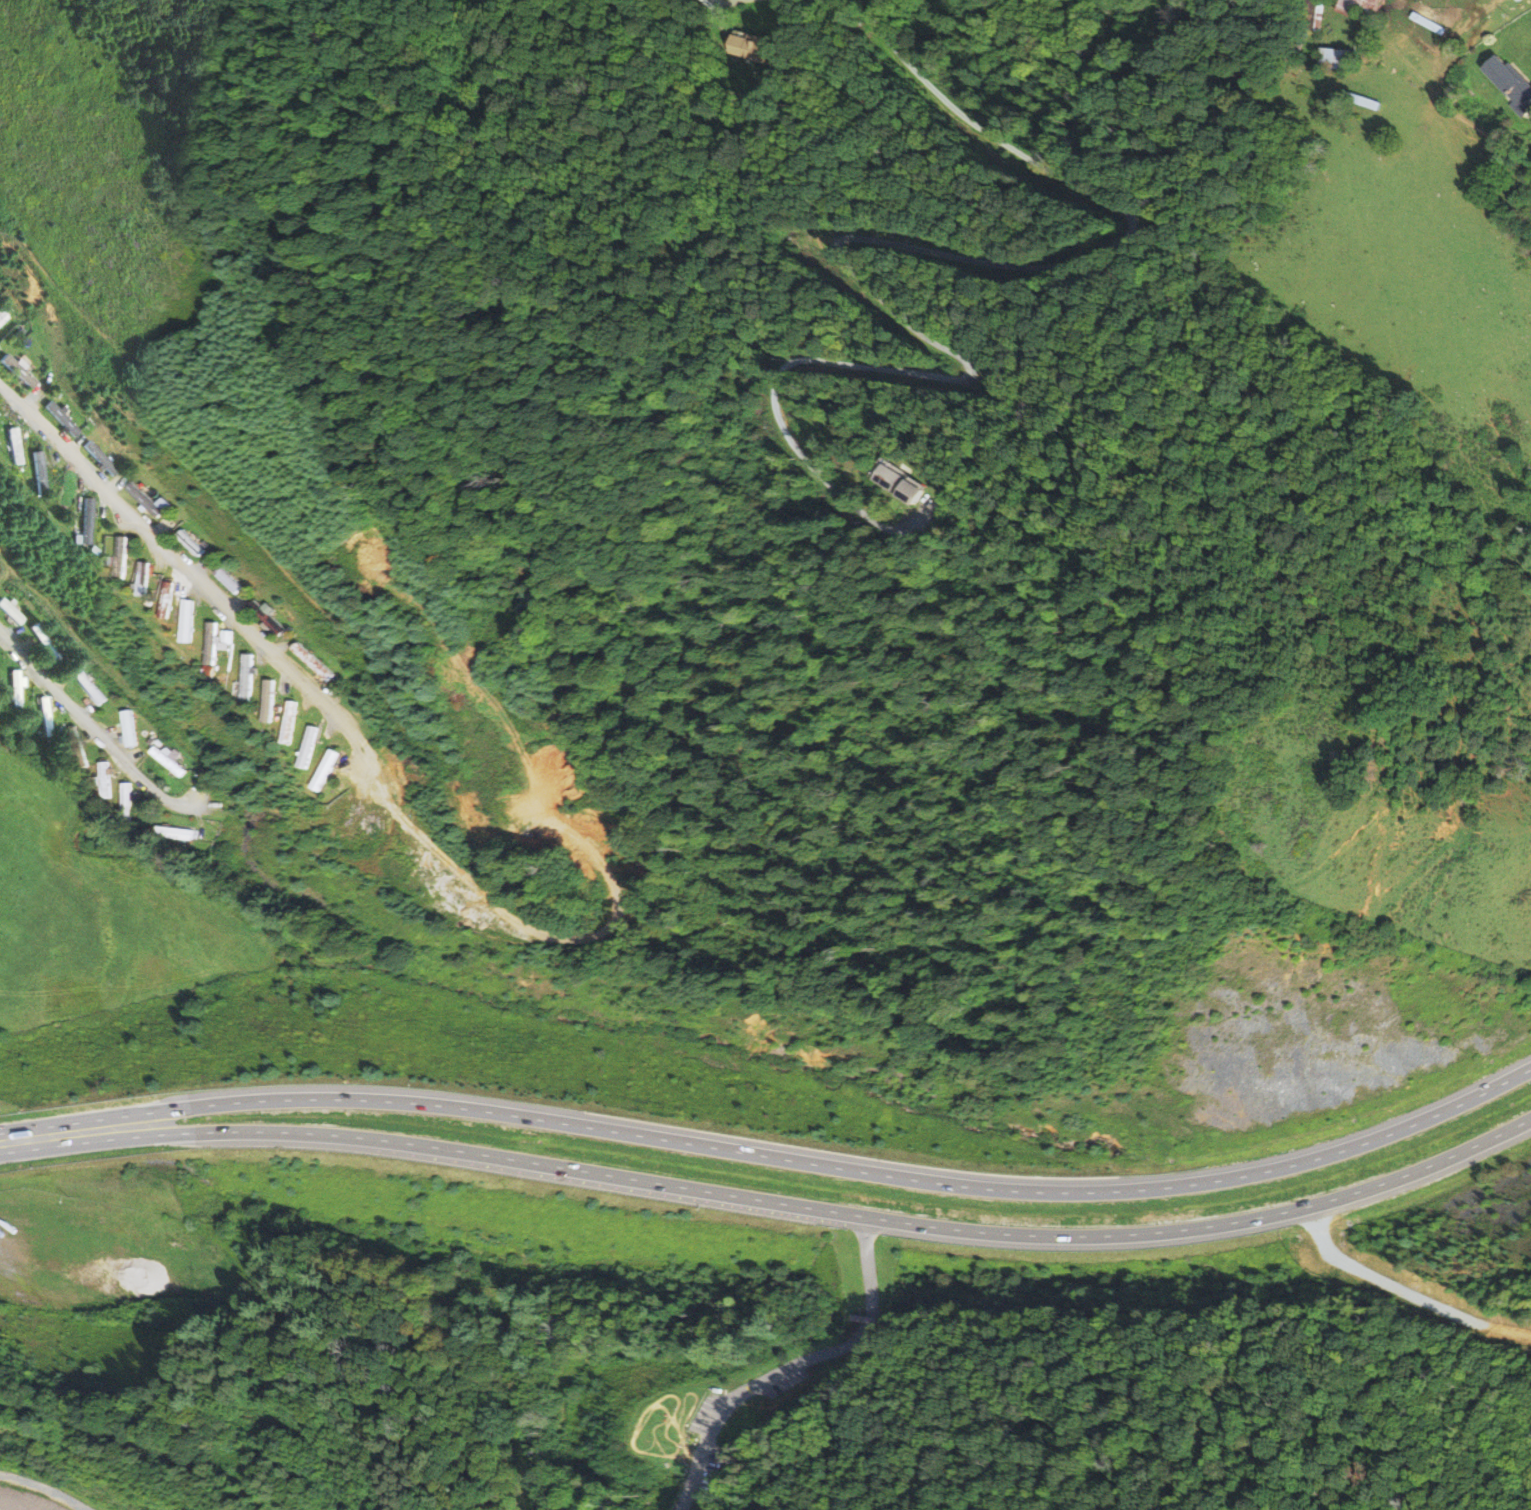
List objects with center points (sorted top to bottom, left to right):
road: (727, 2)
building: (1368, 4)
building: (1315, 14)
building: (1294, 46)
building: (750, 47)
building: (1336, 58)
building: (1510, 85)
building: (1356, 102)
road: (850, 238)
building: (3, 317)
building: (19, 370)
building: (63, 418)
building: (54, 419)
building: (15, 446)
building: (101, 457)
building: (90, 459)
building: (39, 472)
building: (904, 483)
building: (886, 487)
building: (135, 499)
building: (144, 499)
building: (87, 521)
building: (190, 543)
building: (178, 544)
building: (122, 557)
road: (188, 571)
building: (144, 577)
building: (228, 579)
building: (216, 581)
building: (167, 599)
building: (12, 611)
building: (266, 617)
building: (257, 619)
building: (189, 620)
building: (225, 639)
building: (47, 643)
building: (212, 644)
building: (313, 661)
building: (248, 677)
building: (89, 686)
building: (16, 689)
building: (268, 700)
building: (45, 716)
building: (290, 722)
building: (129, 728)
road: (91, 729)
building: (78, 746)
building: (308, 747)
building: (168, 761)
building: (326, 770)
building: (106, 780)
building: (127, 800)
building: (176, 833)
road: (60, 1135)
road: (833, 1166)
road: (833, 1212)
building: (119, 1226)
building: (31, 1285)
road: (1137, 1350)
road: (799, 1370)
road: (695, 1396)
road: (664, 1406)
park: (1030, 1406)
road: (1121, 1418)
road: (673, 1422)
park: (672, 1431)
parking lot: (709, 1433)
road: (872, 1452)
road: (517, 1475)
road: (46, 1489)
road: (1206, 1489)
road: (729, 1490)
road: (832, 1500)

